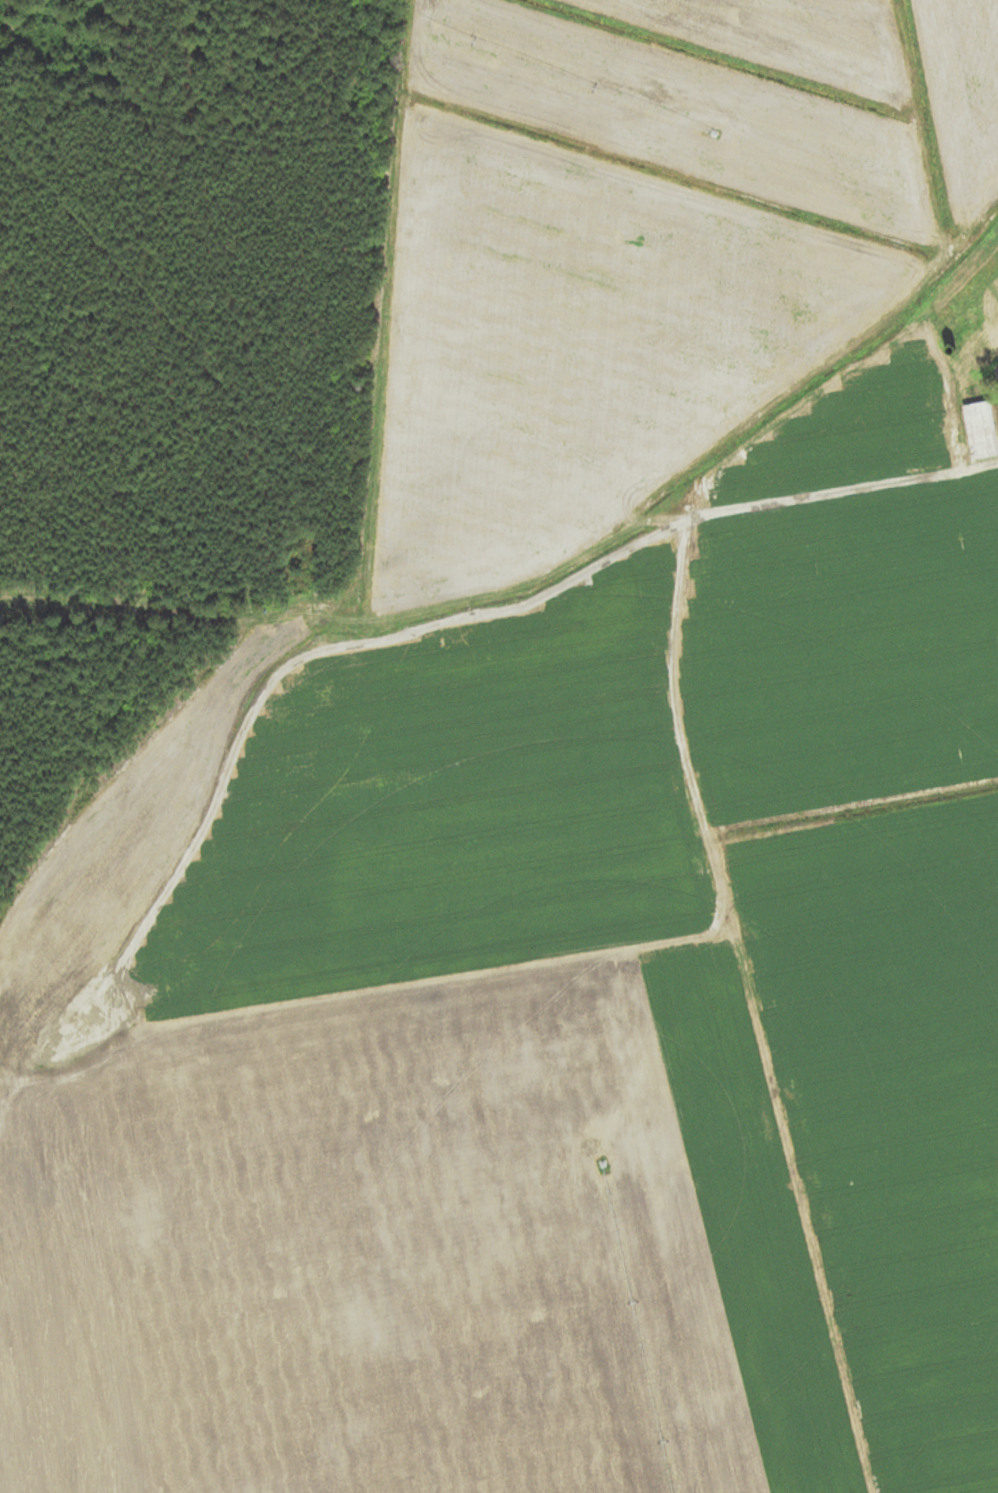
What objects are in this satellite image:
building: (946, 321)
building: (981, 430)

